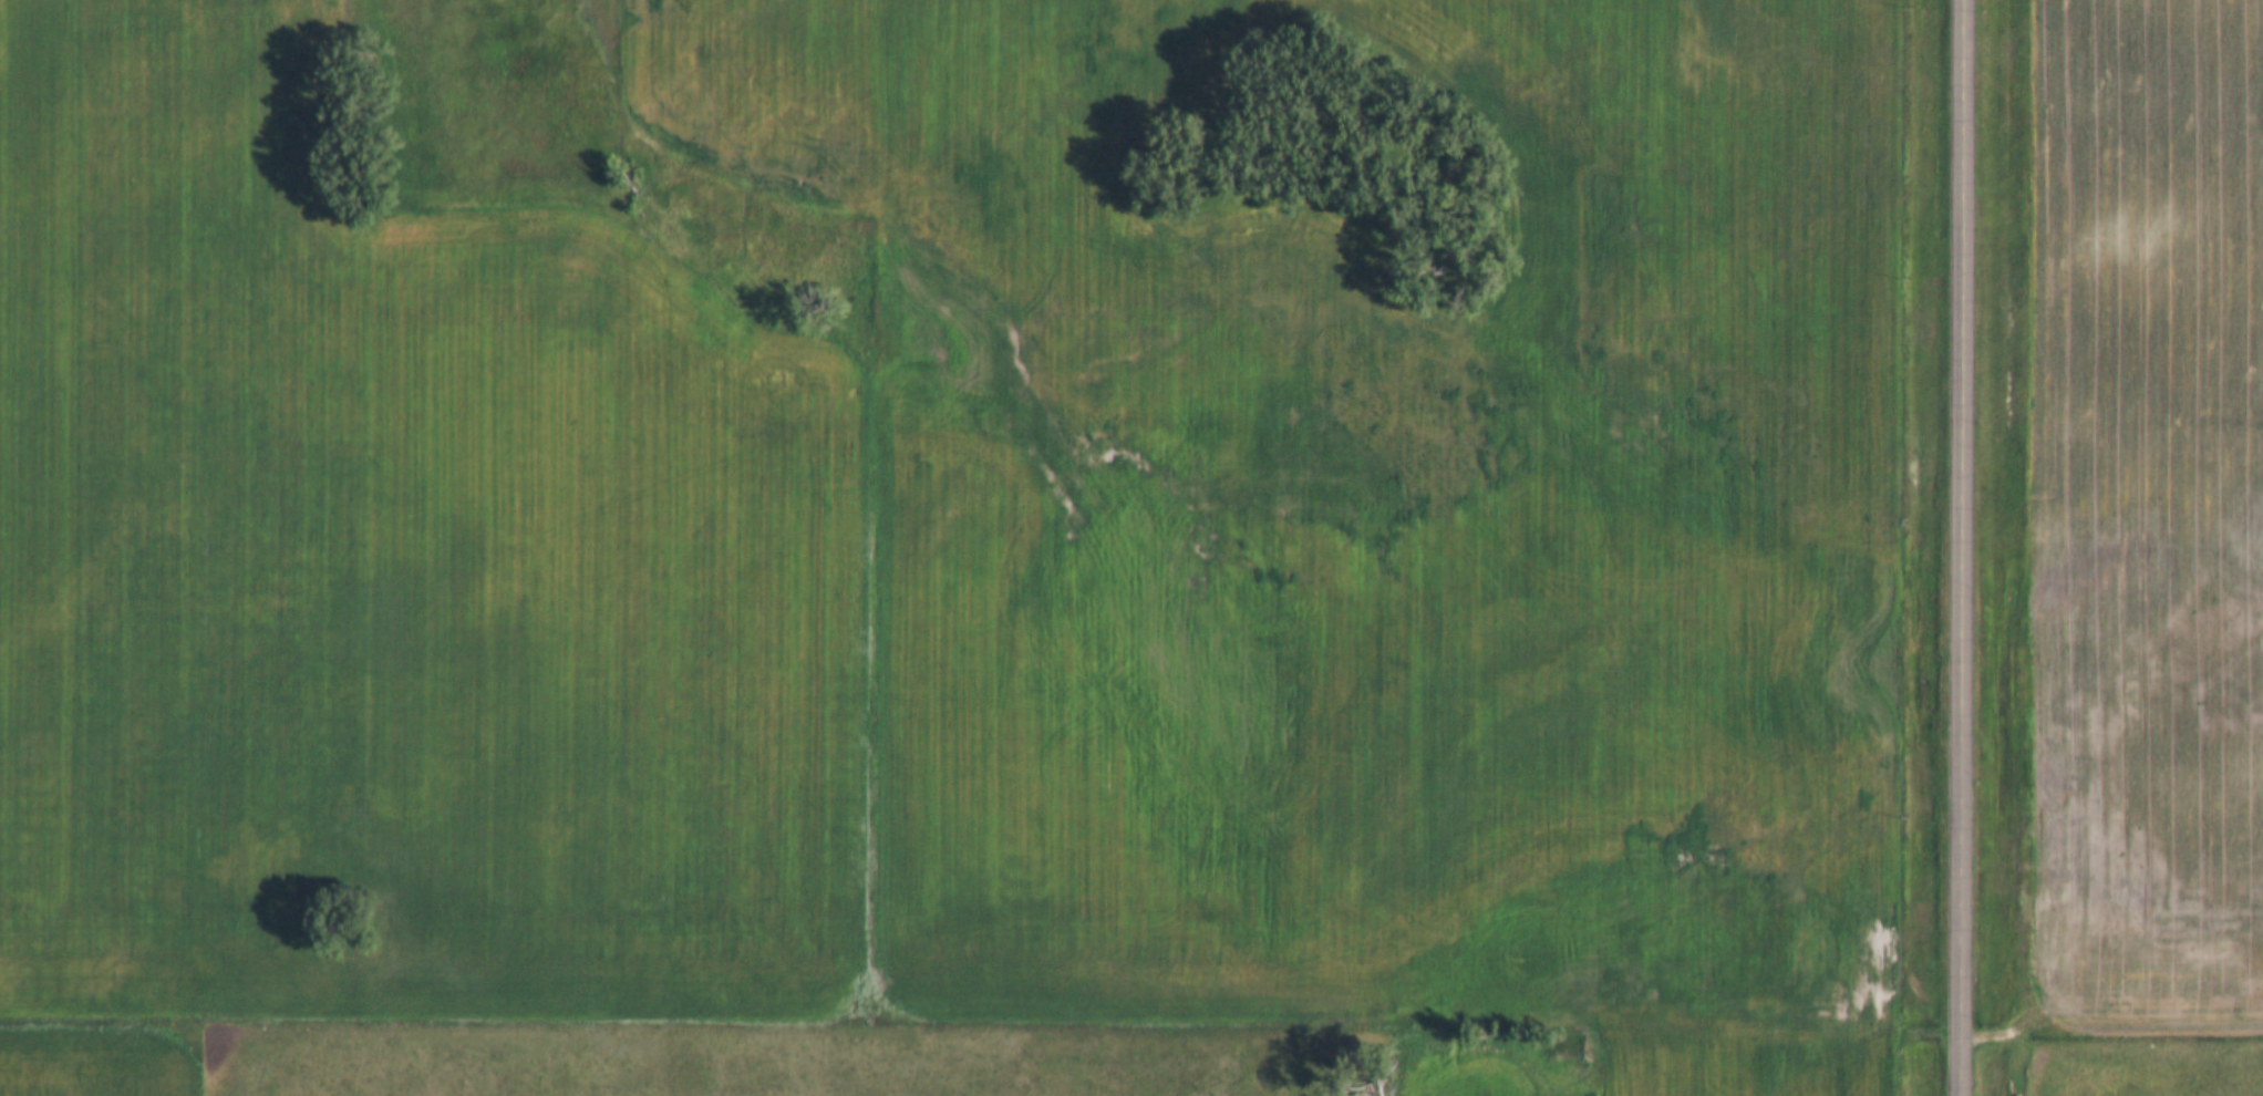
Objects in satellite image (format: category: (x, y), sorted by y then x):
road: (1960, 547)

